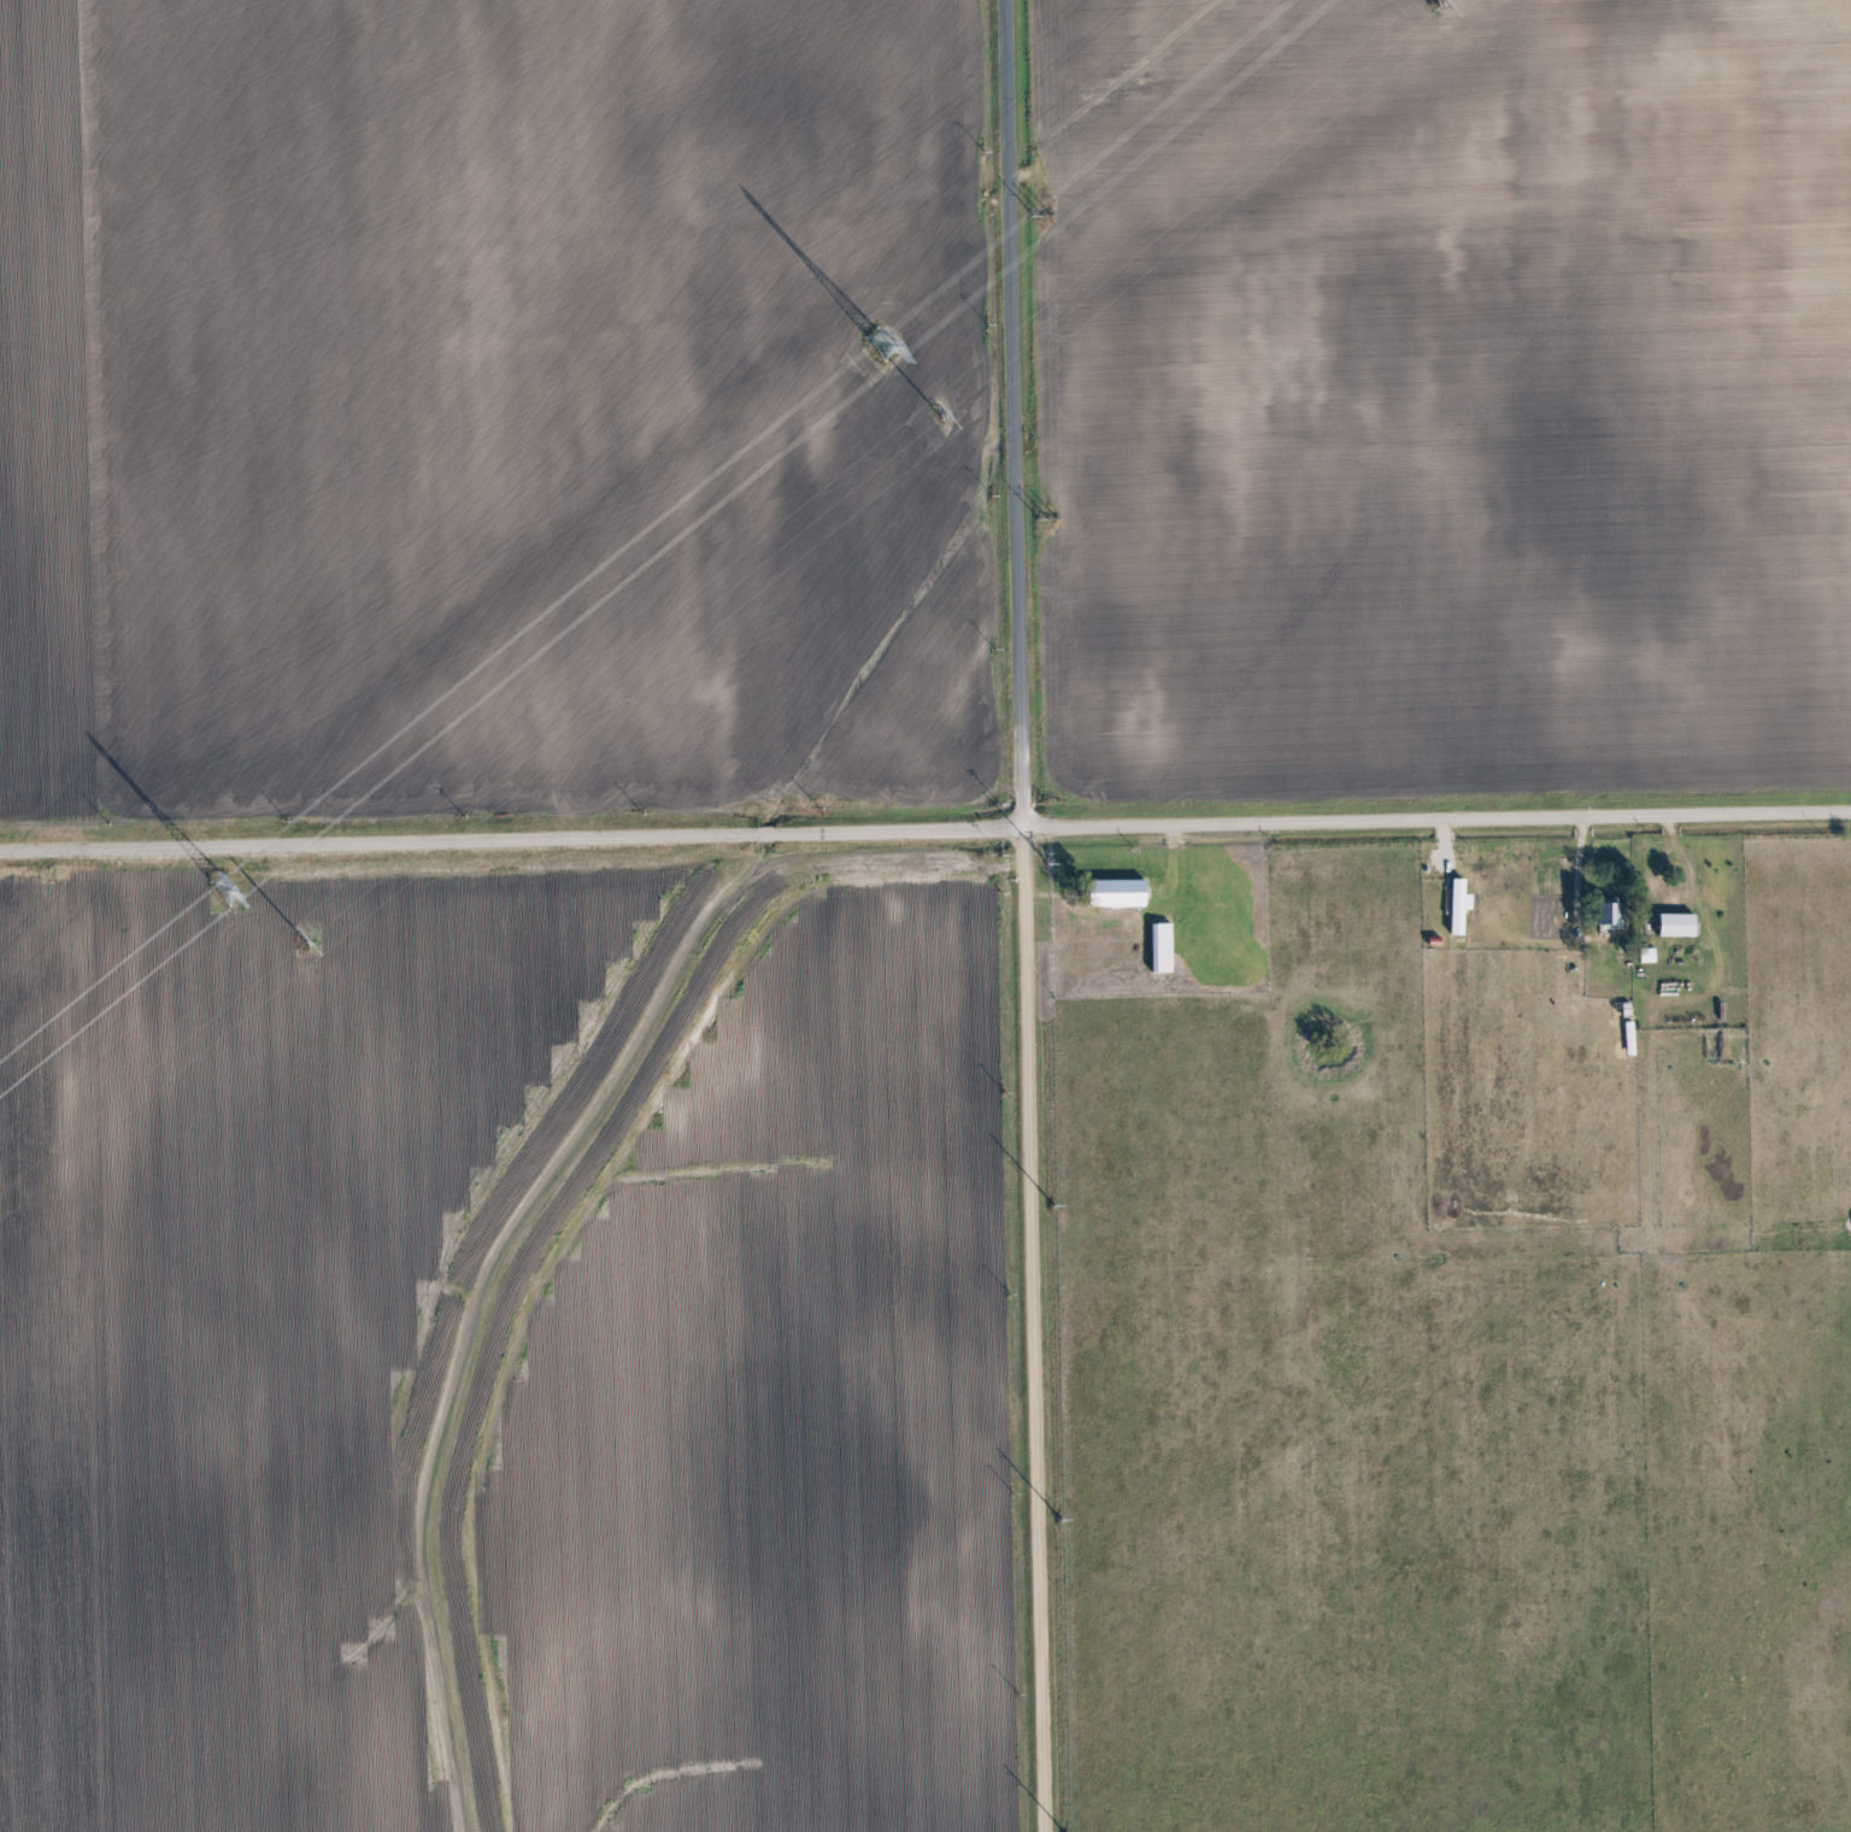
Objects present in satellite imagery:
power tower: (1429, 0)
power tower: (879, 343)
power tower: (934, 415)
road: (925, 835)
road: (1640, 869)
power tower: (223, 886)
building: (1116, 894)
building: (1456, 908)
road: (1022, 915)
building: (1606, 915)
building: (1675, 926)
road: (1054, 935)
power tower: (299, 940)
building: (1160, 949)

